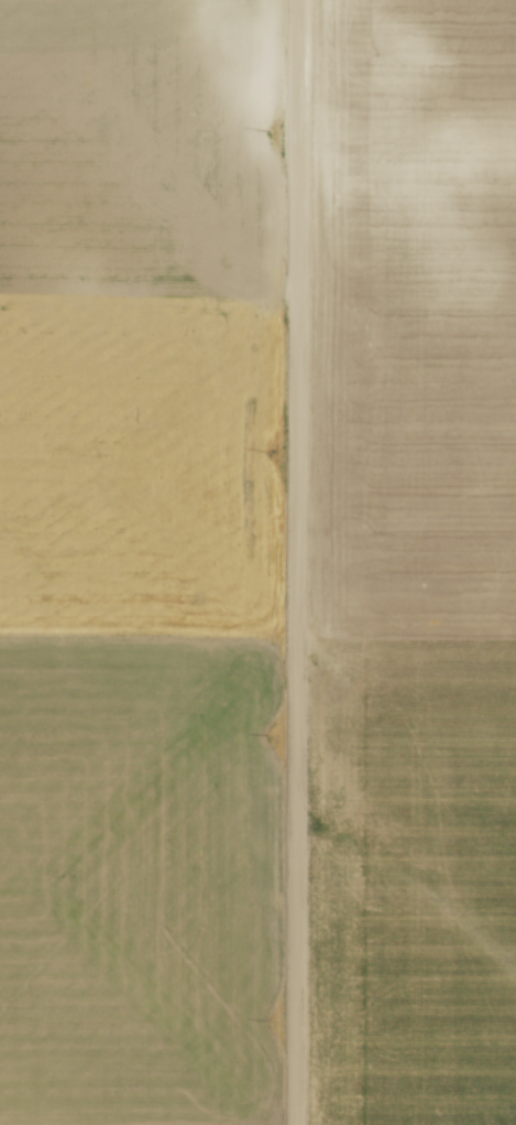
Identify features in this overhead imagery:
road: (298, 562)
crop: (415, 562)
crop: (136, 563)

